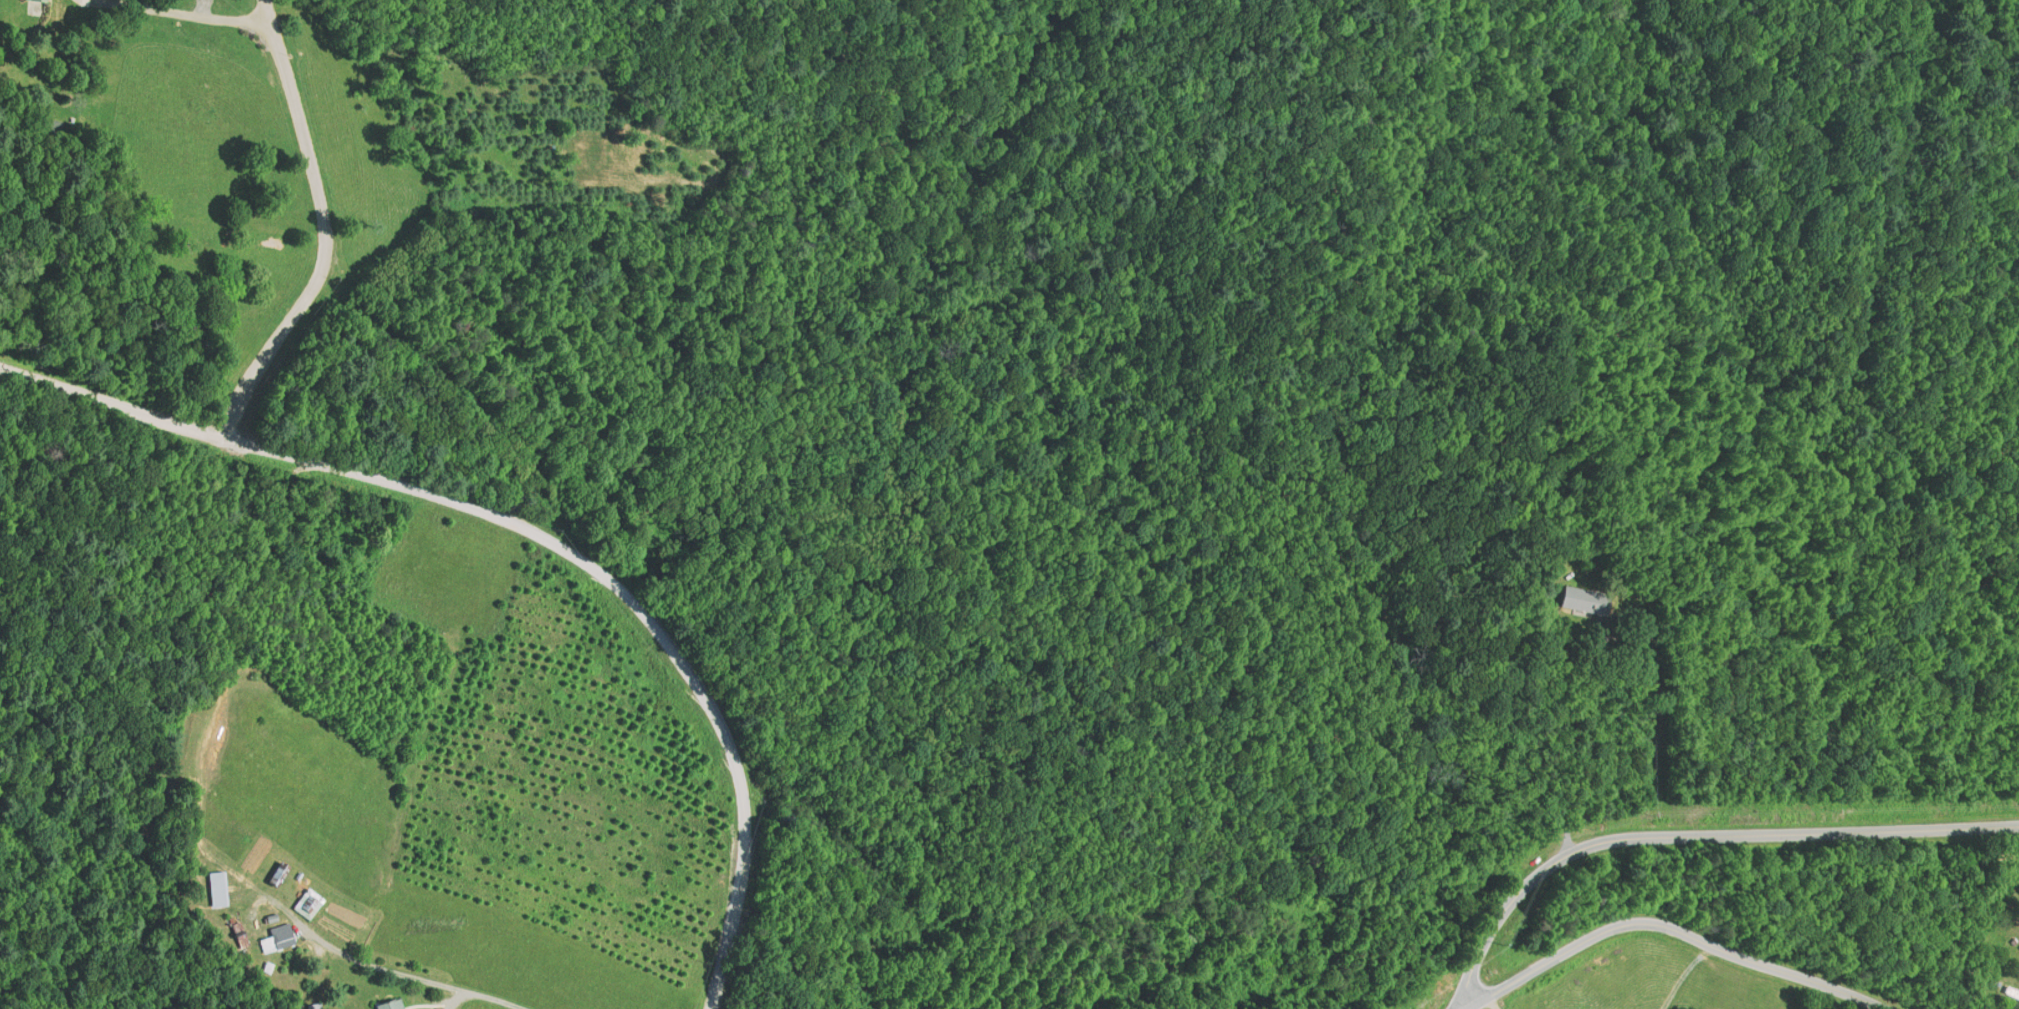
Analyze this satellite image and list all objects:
building: (39, 1)
road: (2016, 2)
road: (193, 12)
road: (323, 228)
road: (537, 533)
building: (1571, 601)
road: (1580, 740)
road: (1699, 832)
building: (2017, 875)
building: (218, 890)
road: (1674, 926)
building: (276, 939)
building: (2009, 994)
road: (491, 997)
road: (1492, 1001)
building: (392, 1004)

